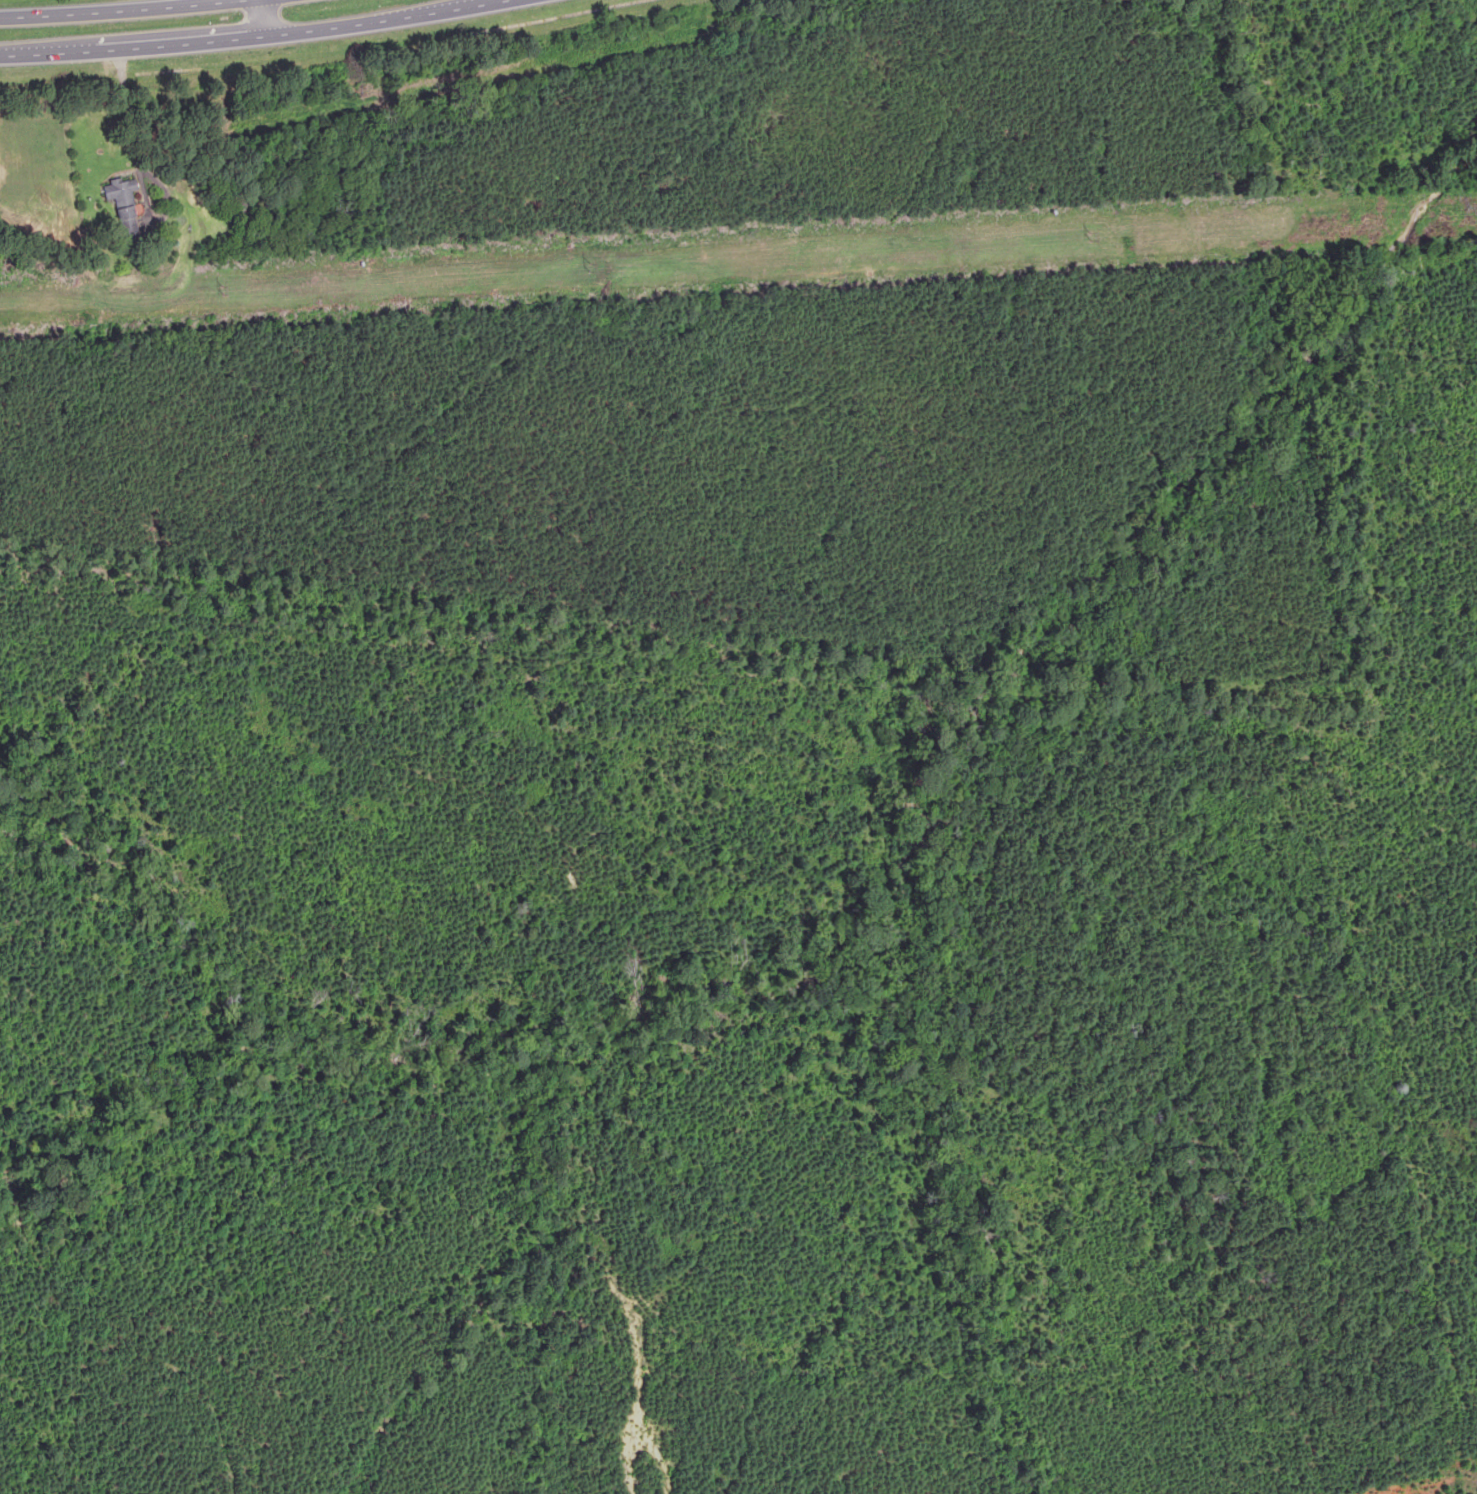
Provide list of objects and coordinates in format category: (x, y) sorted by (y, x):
road: (505, 1)
road: (120, 10)
road: (263, 18)
road: (382, 20)
road: (148, 46)
road: (15, 54)
building: (123, 207)

